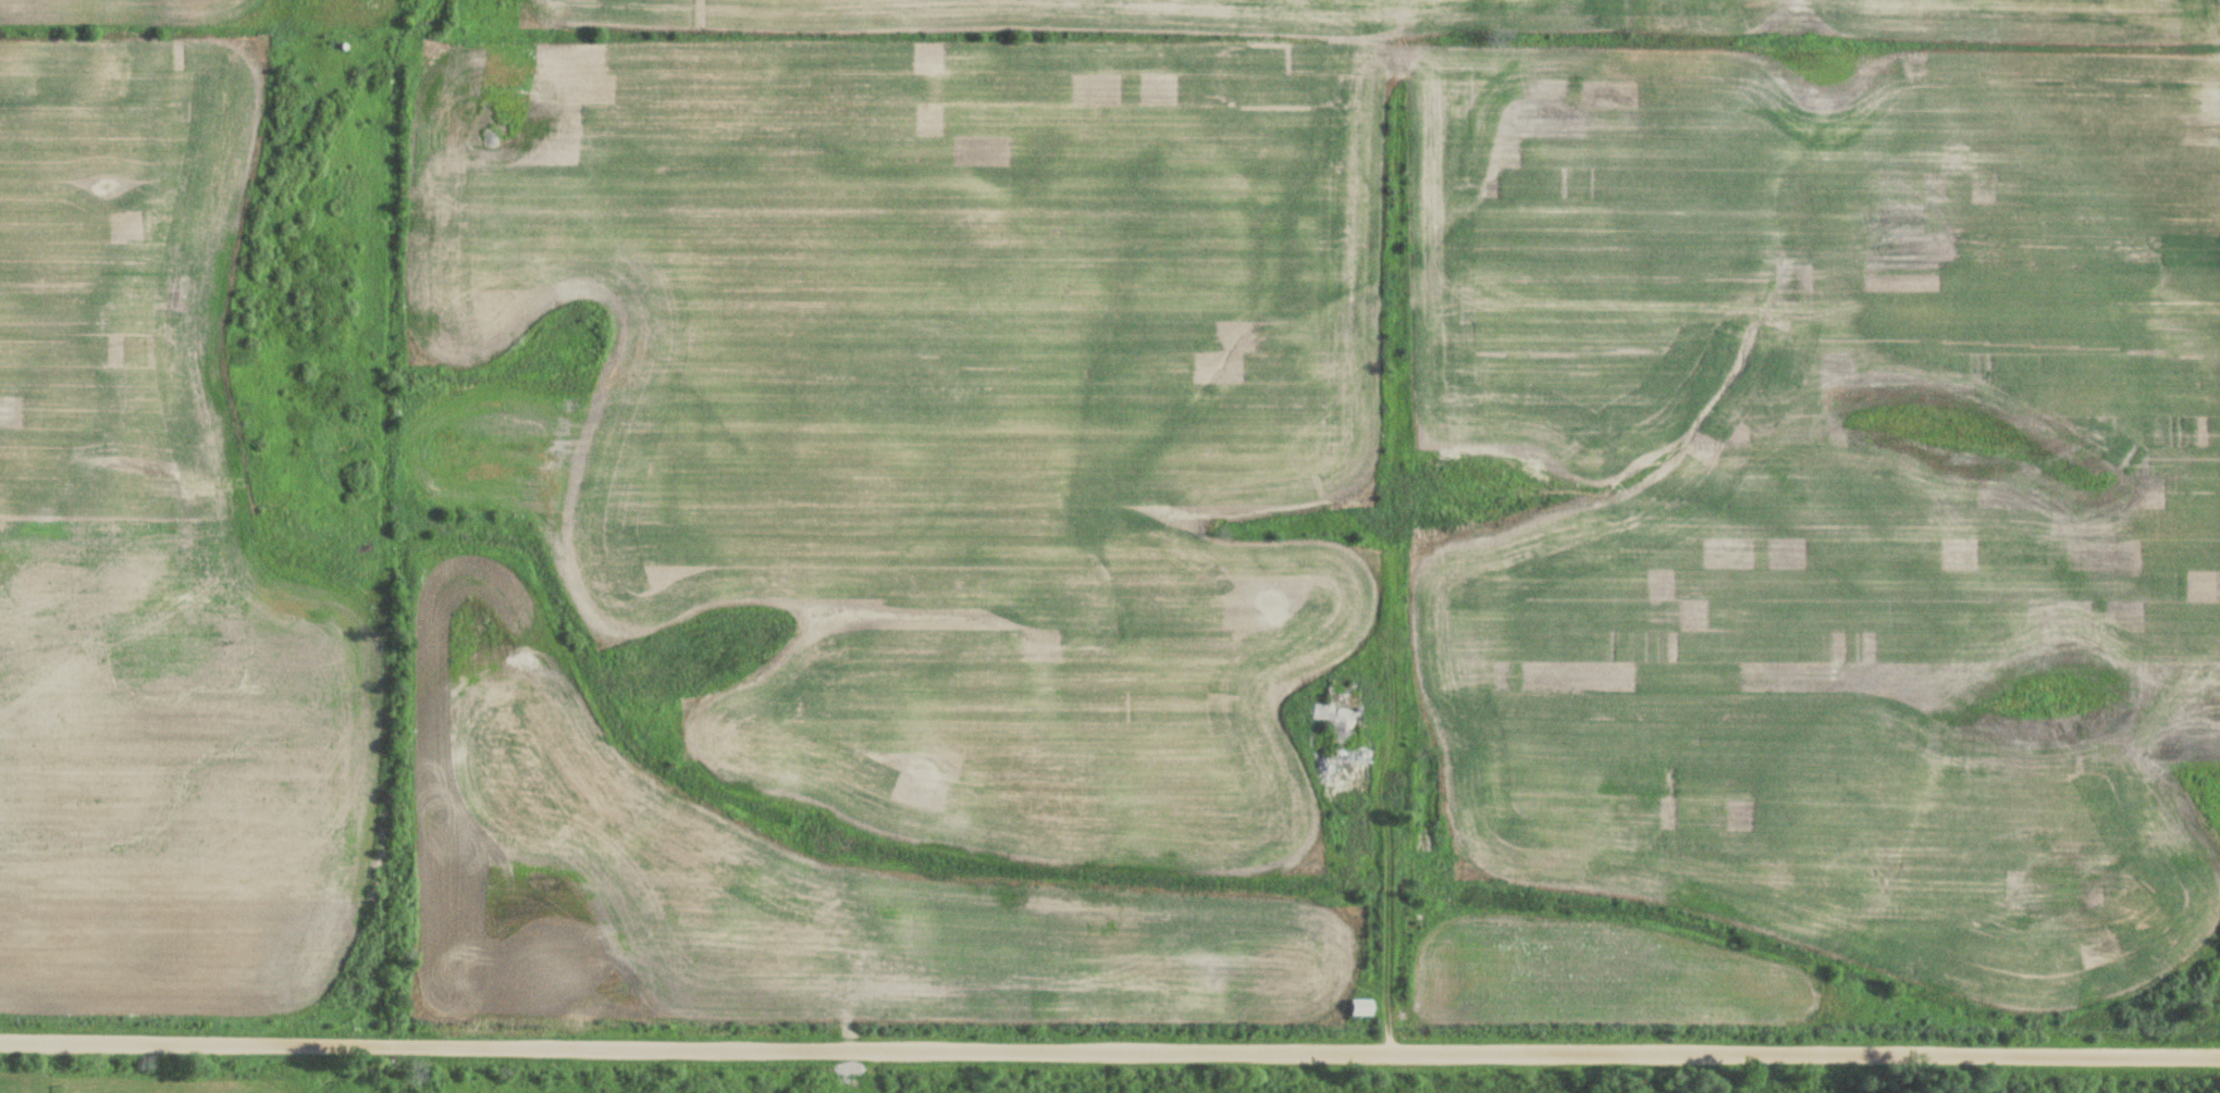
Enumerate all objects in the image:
building: (1341, 719)
building: (1360, 1008)
road: (1110, 1048)

